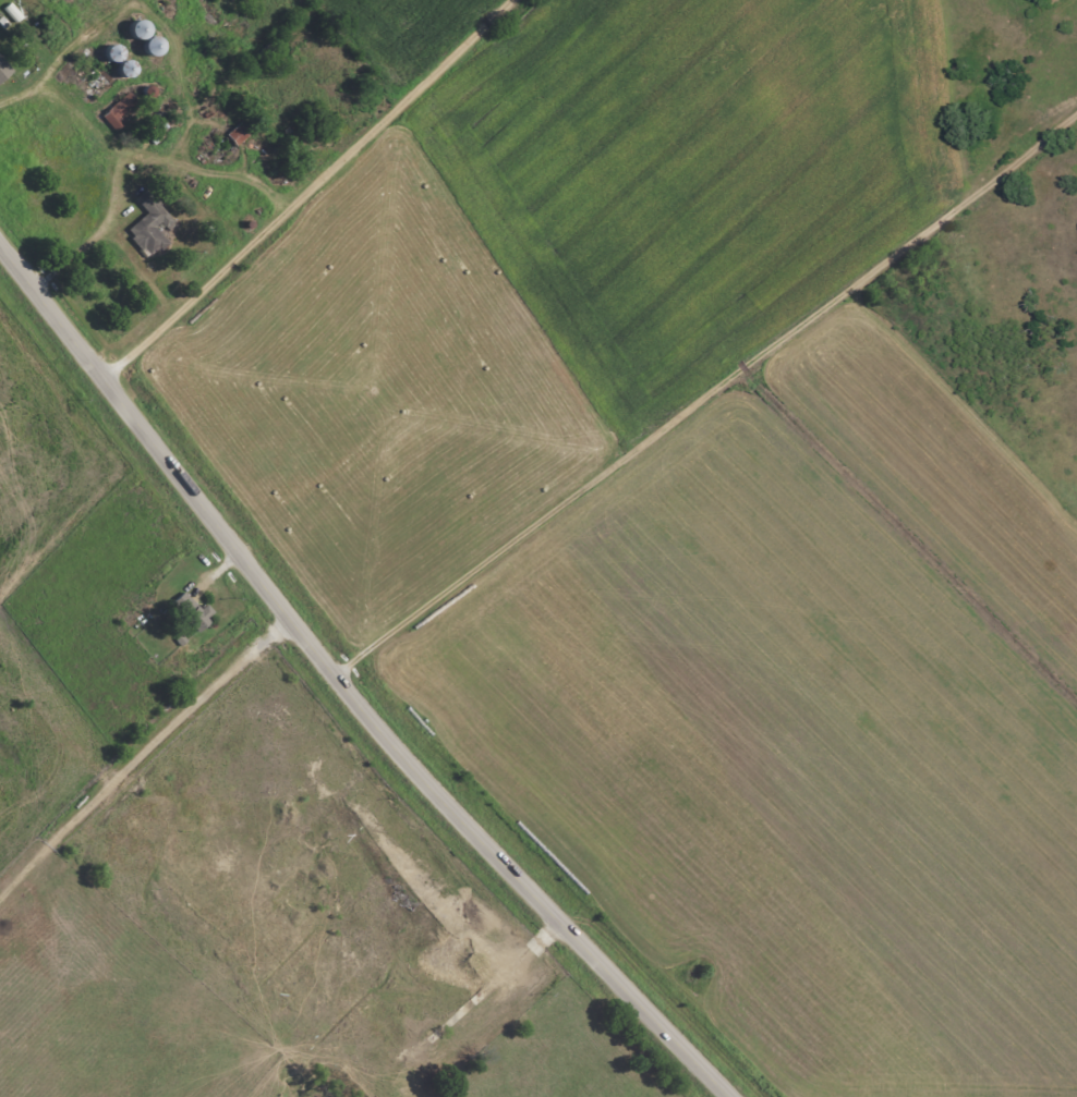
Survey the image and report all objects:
building: (135, 31)
building: (148, 47)
building: (110, 54)
building: (123, 70)
building: (3, 71)
building: (90, 83)
road: (96, 101)
road: (2, 102)
building: (116, 117)
road: (160, 174)
road: (314, 192)
building: (147, 226)
road: (712, 390)
building: (189, 611)
road: (349, 684)

